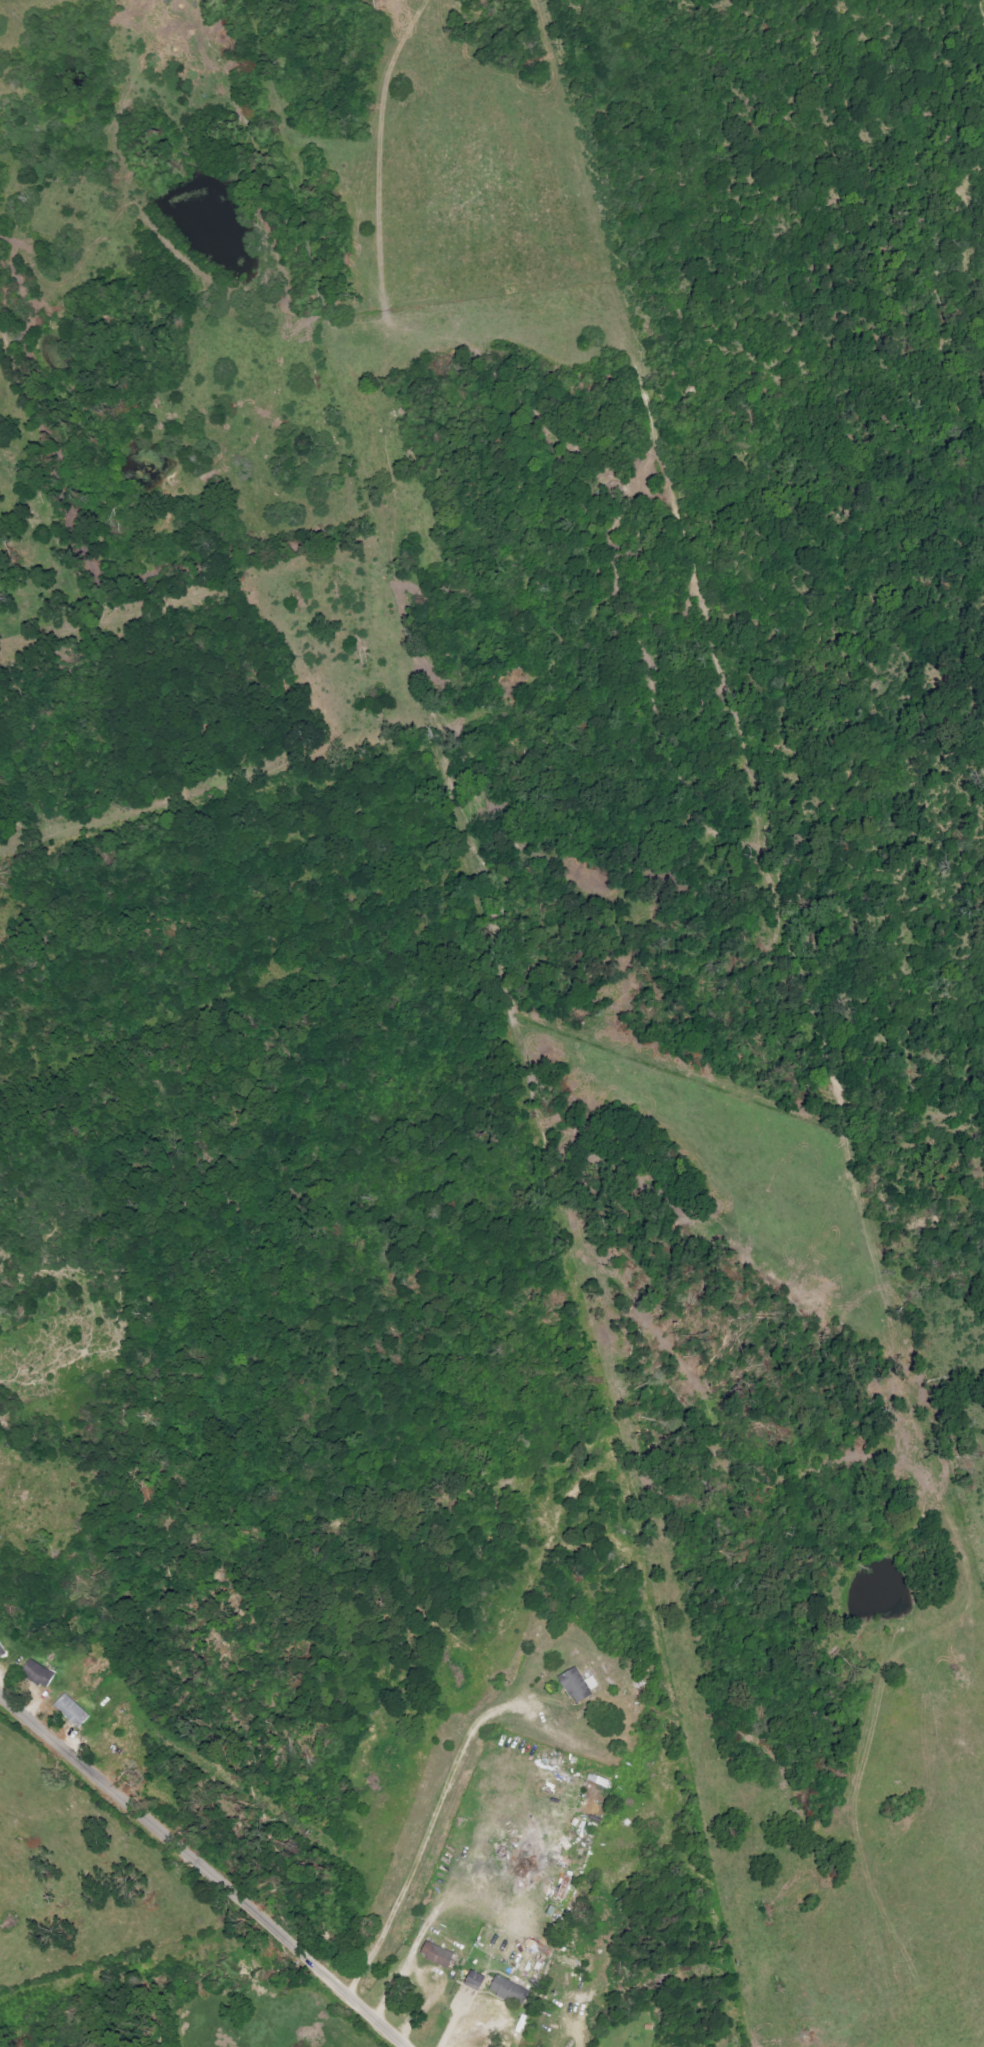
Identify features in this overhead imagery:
building: (2, 1649)
building: (38, 1673)
building: (579, 1684)
building: (72, 1710)
road: (432, 1838)
road: (203, 1870)
building: (438, 1954)
building: (476, 1980)
building: (510, 1990)
road: (589, 2021)

